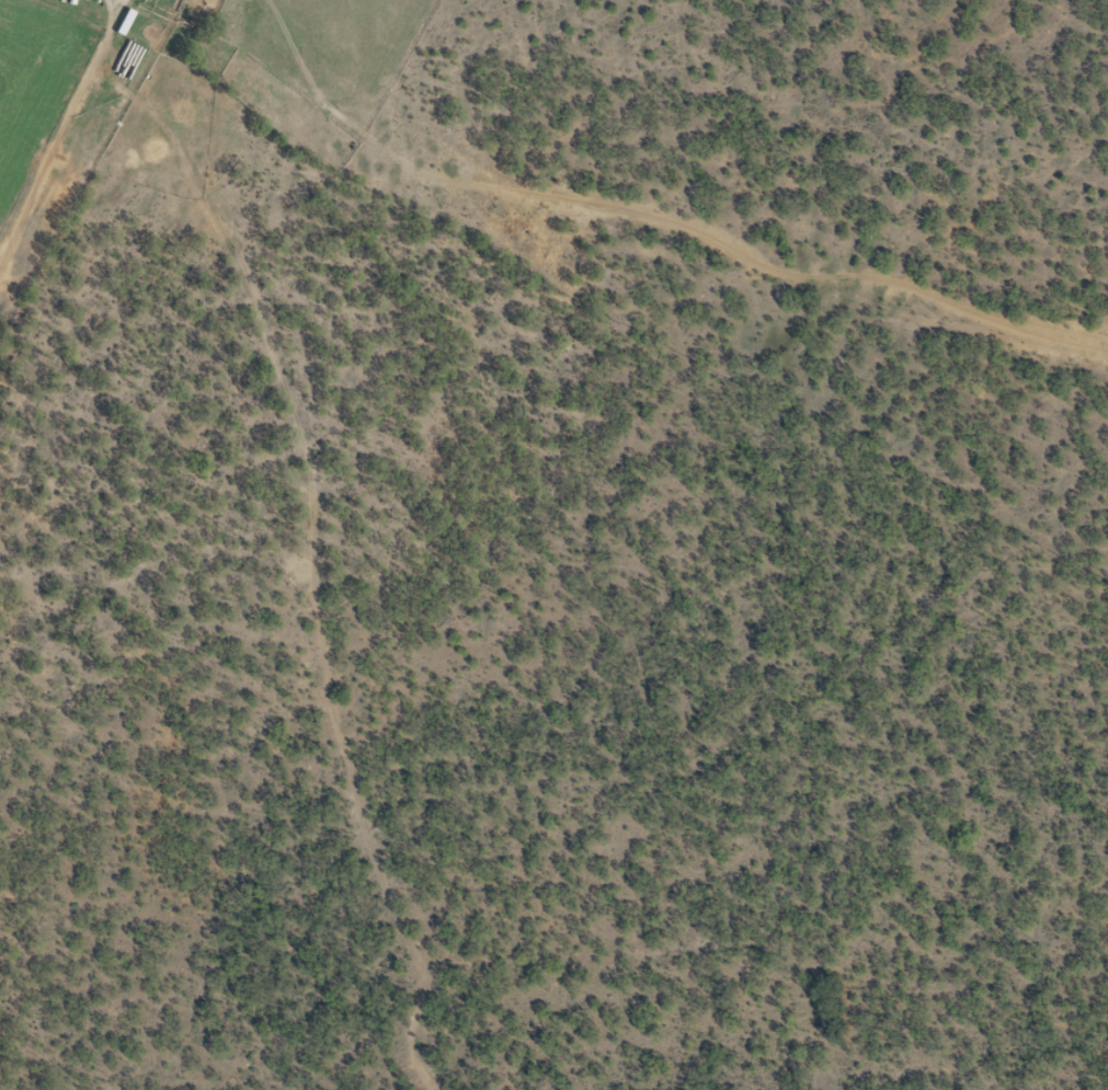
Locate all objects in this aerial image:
road: (738, 240)

